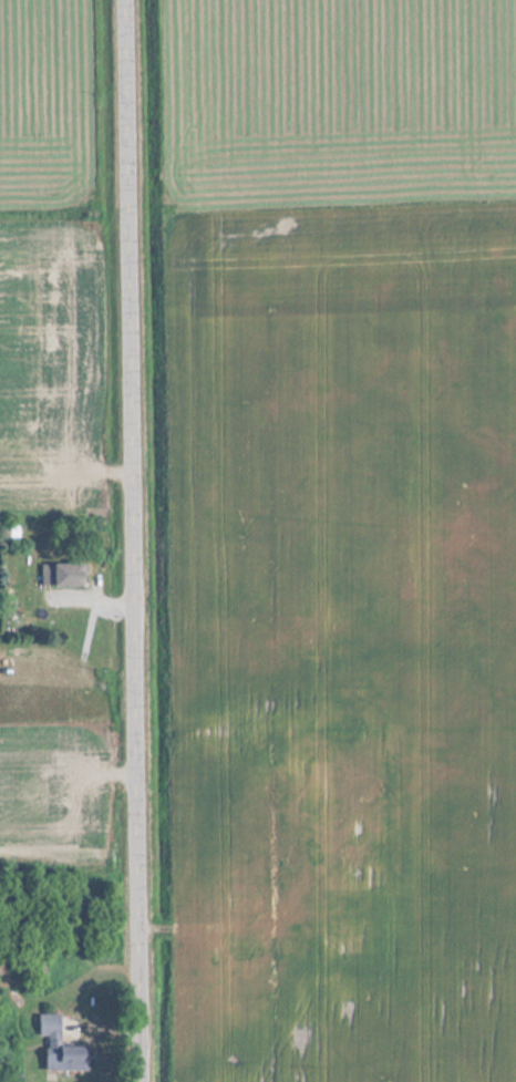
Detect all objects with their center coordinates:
road: (131, 540)
building: (62, 574)
building: (300, 810)
building: (376, 876)
building: (349, 918)
building: (248, 948)
building: (60, 1045)

